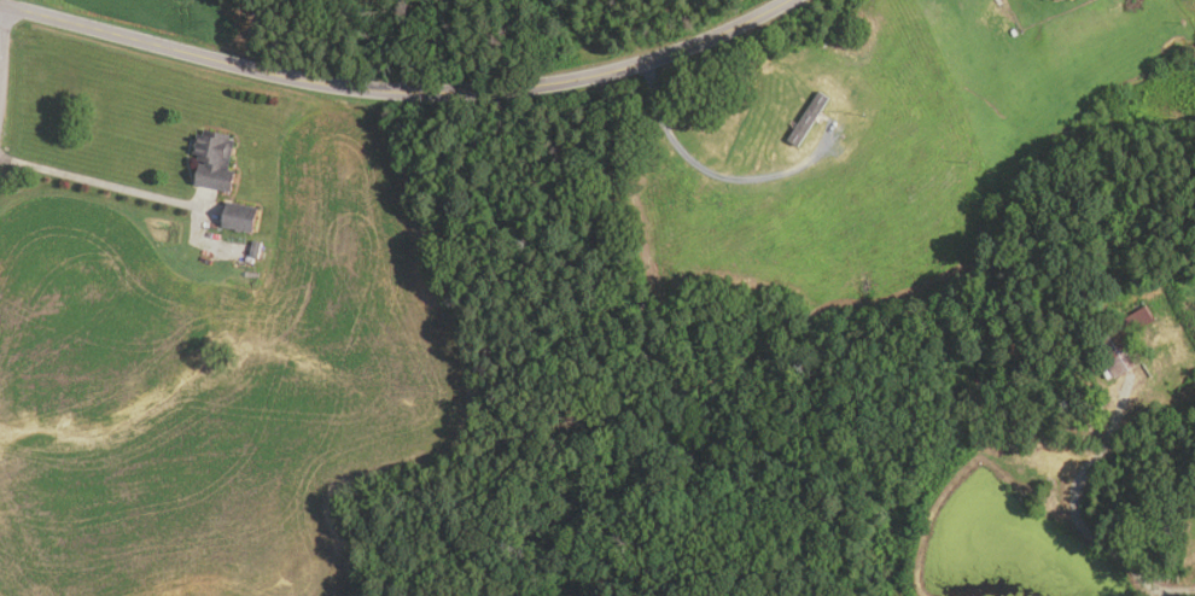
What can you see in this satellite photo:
road: (1, 25)
road: (392, 90)
building: (209, 159)
road: (100, 182)
building: (1136, 317)
building: (1113, 349)
road: (1090, 537)

